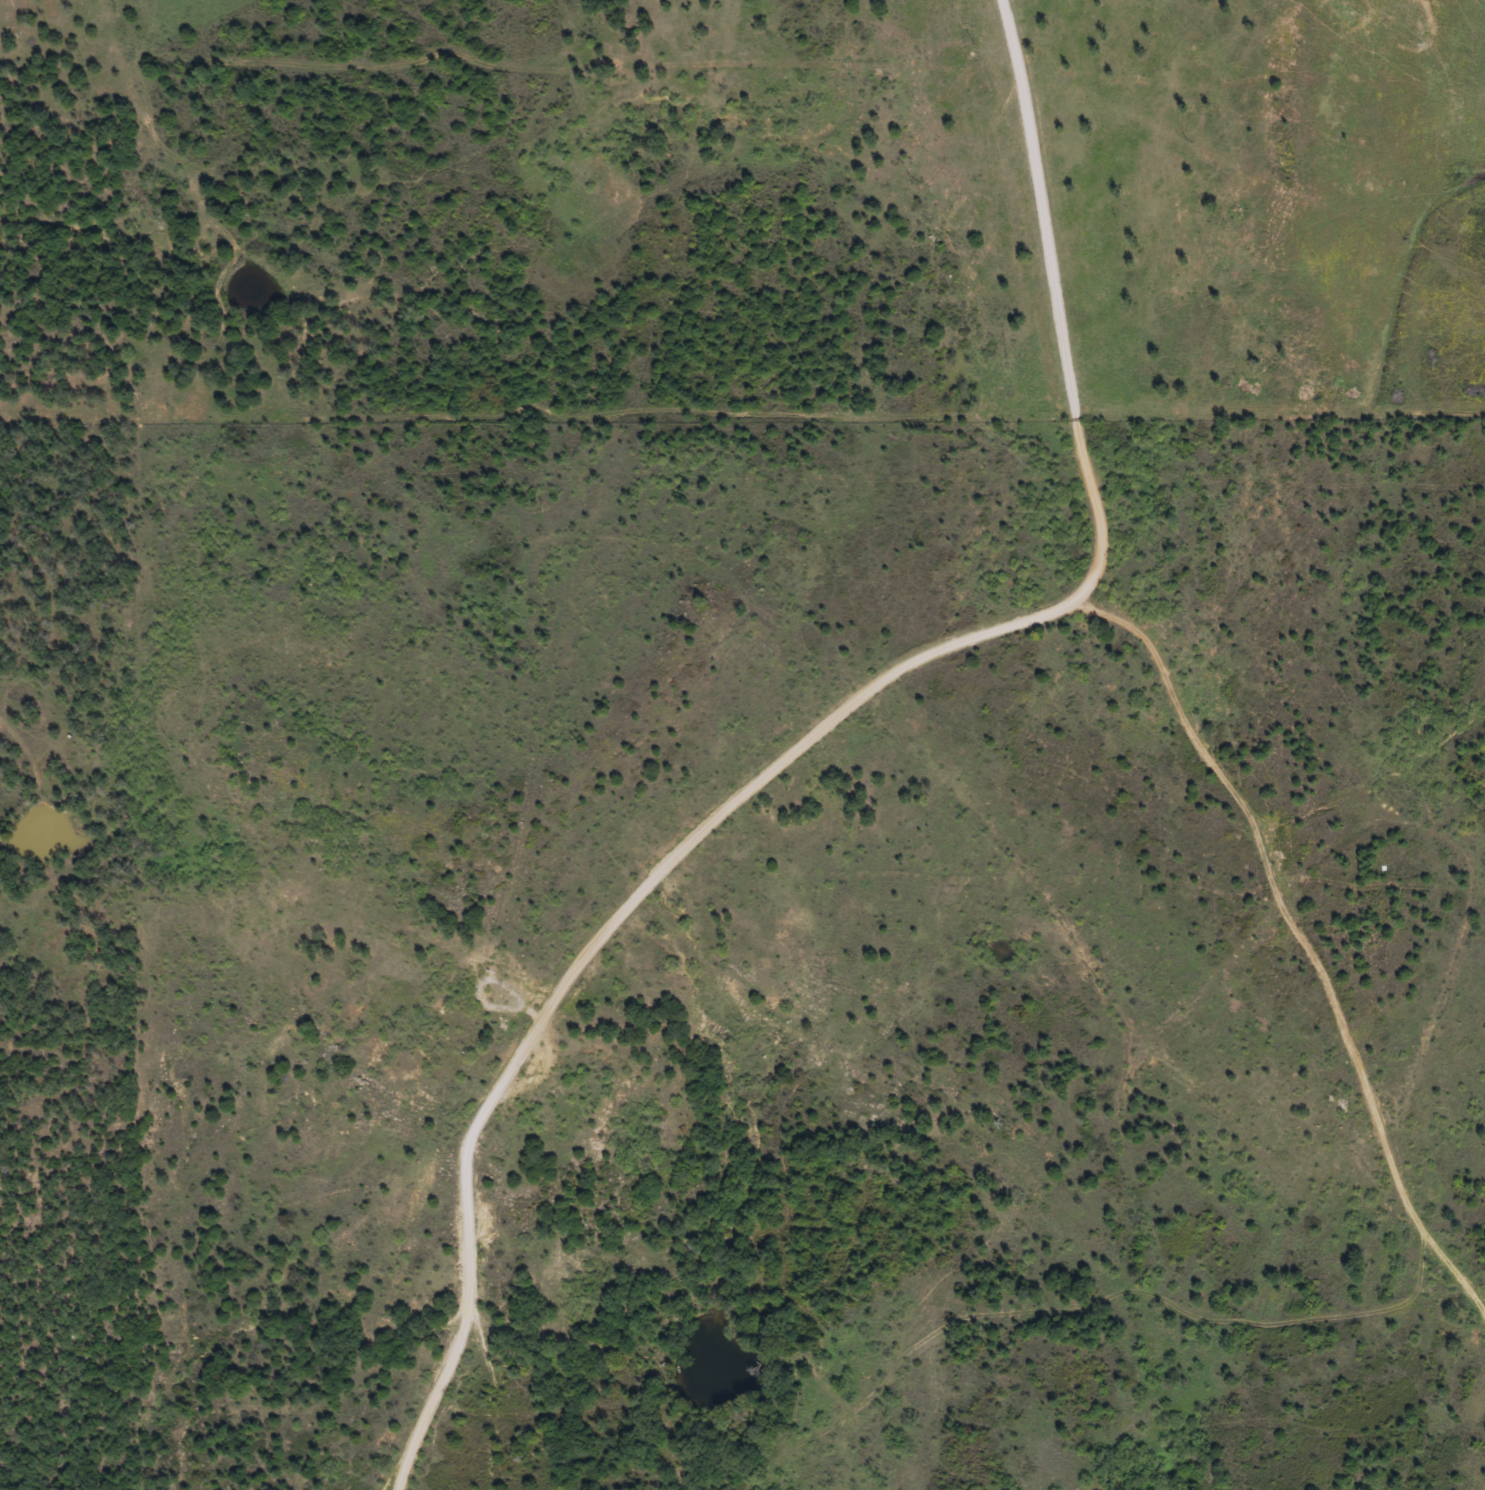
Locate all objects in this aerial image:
road: (823, 729)

